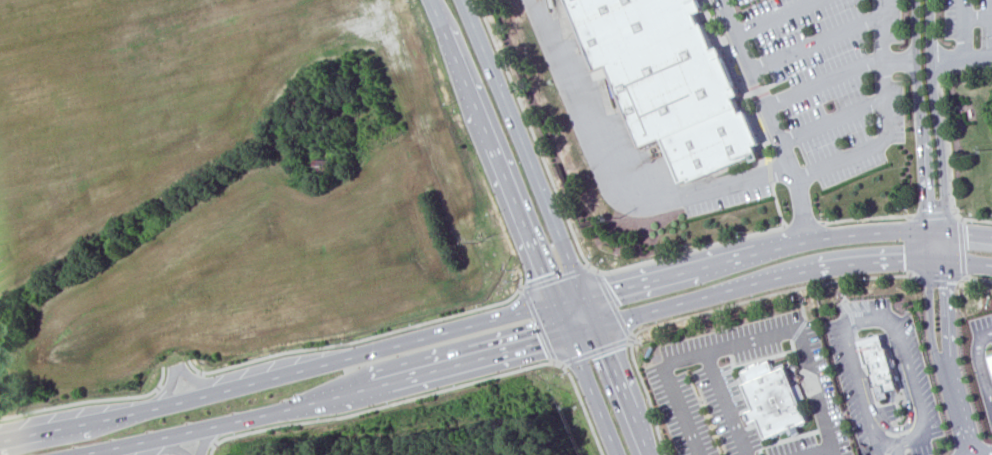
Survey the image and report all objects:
road: (779, 17)
road: (979, 20)
parking lot: (968, 23)
road: (967, 30)
road: (817, 43)
road: (902, 58)
road: (963, 62)
building: (669, 80)
parking lot: (837, 80)
road: (826, 83)
road: (772, 118)
road: (834, 120)
road: (887, 120)
road: (583, 122)
road: (924, 130)
road: (941, 131)
road: (493, 152)
road: (951, 160)
road: (531, 163)
road: (733, 183)
road: (776, 204)
traffic signals: (930, 209)
road: (932, 213)
road: (865, 218)
power tower: (616, 219)
road: (803, 224)
road: (569, 228)
traffic signals: (967, 235)
power tower: (477, 243)
road: (772, 248)
road: (962, 248)
traffic signals: (921, 262)
road: (971, 264)
traffic signals: (544, 274)
road: (555, 277)
road: (941, 278)
road: (771, 279)
road: (978, 279)
traffic signals: (949, 282)
road: (841, 290)
traffic signals: (612, 291)
road: (772, 292)
road: (611, 304)
road: (849, 316)
road: (876, 319)
road: (538, 324)
road: (362, 339)
traffic signals: (540, 343)
road: (799, 344)
road: (593, 351)
traffic signals: (609, 352)
building: (991, 357)
road: (937, 360)
road: (951, 360)
building: (879, 363)
road: (978, 364)
road: (280, 376)
road: (178, 378)
road: (587, 379)
road: (668, 387)
road: (624, 390)
parking lot: (750, 391)
road: (432, 392)
road: (340, 394)
road: (647, 395)
building: (772, 399)
road: (89, 400)
road: (907, 400)
road: (724, 403)
road: (893, 438)
road: (202, 452)
road: (819, 452)
road: (829, 452)

